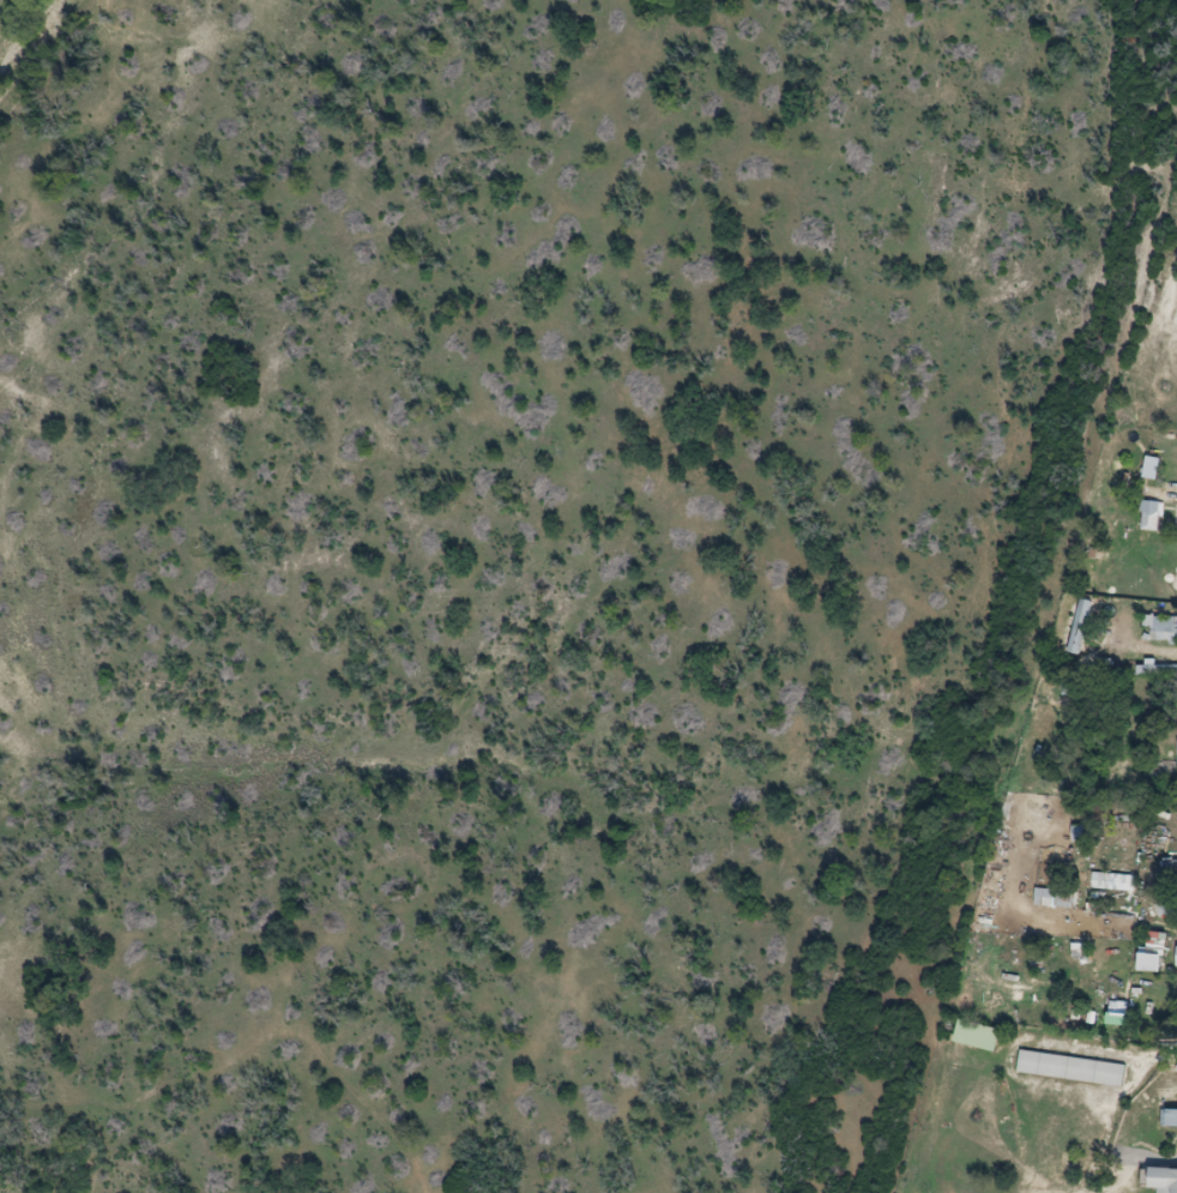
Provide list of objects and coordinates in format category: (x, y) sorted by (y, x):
building: (1154, 516)
building: (1164, 626)
building: (1075, 688)
building: (1062, 898)
building: (1160, 944)
building: (1086, 951)
building: (983, 1035)
building: (1073, 1068)
building: (1170, 1119)
building: (1169, 1181)

